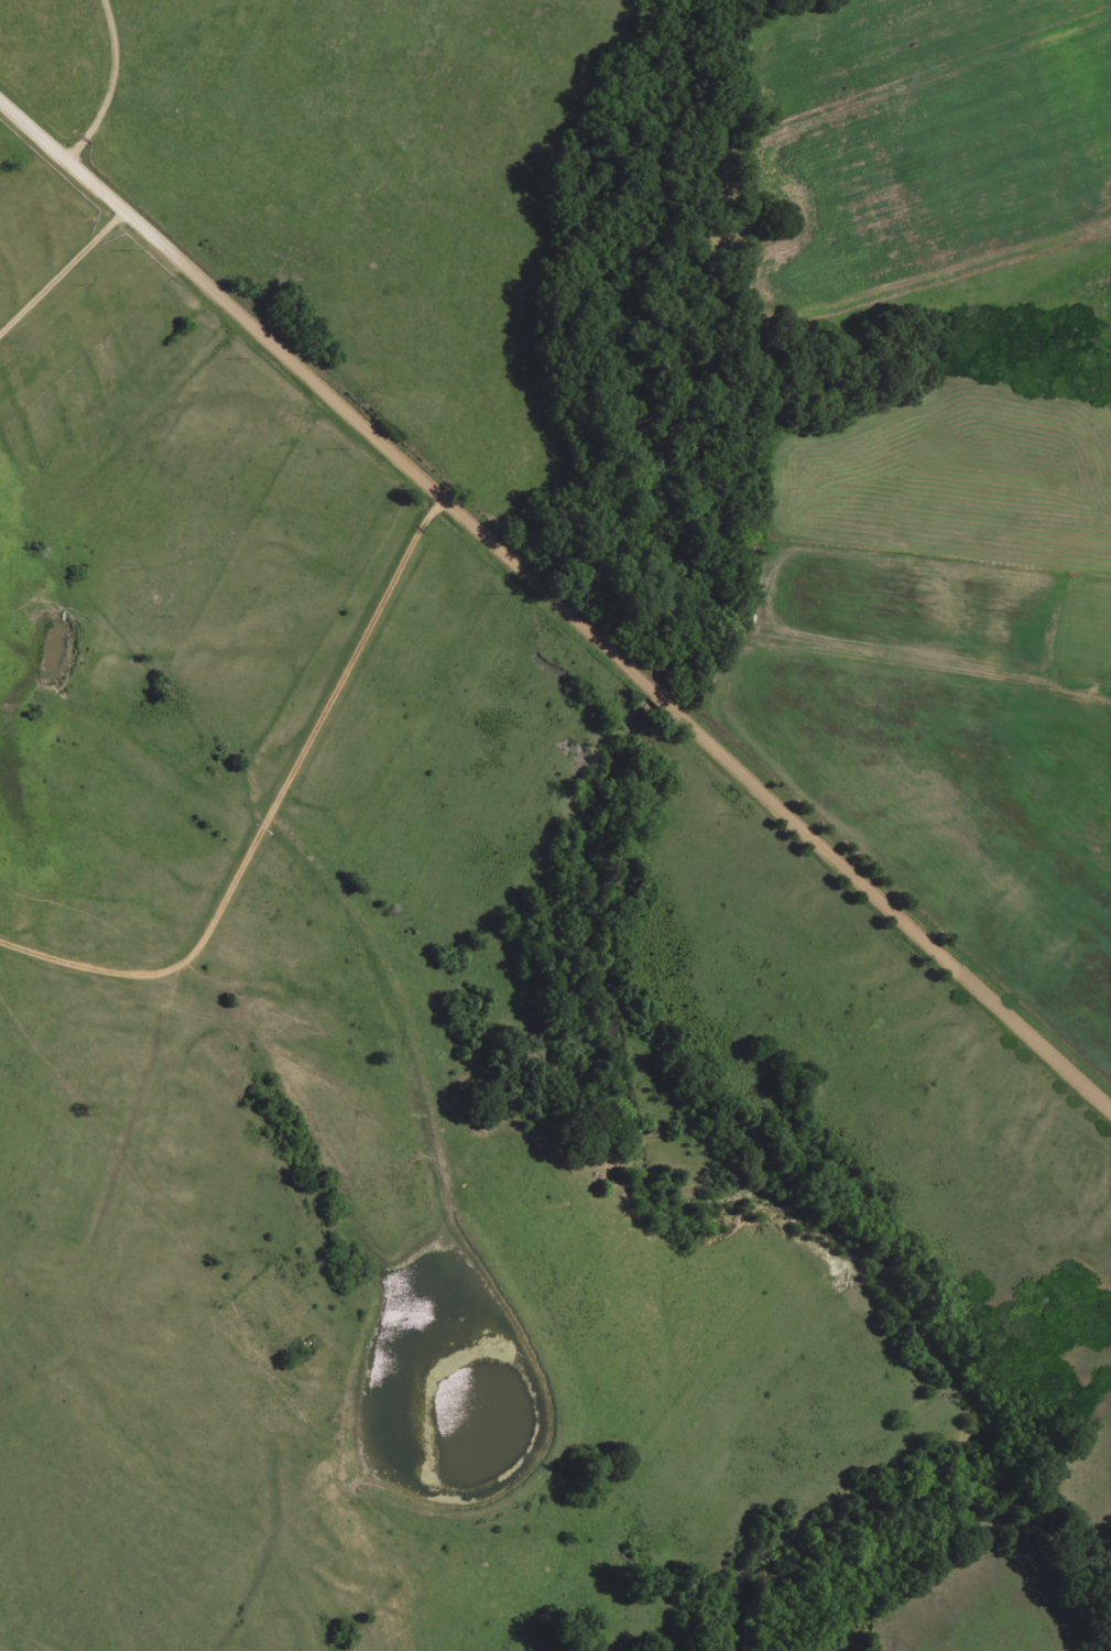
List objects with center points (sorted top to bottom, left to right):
road: (558, 599)
road: (225, 914)

